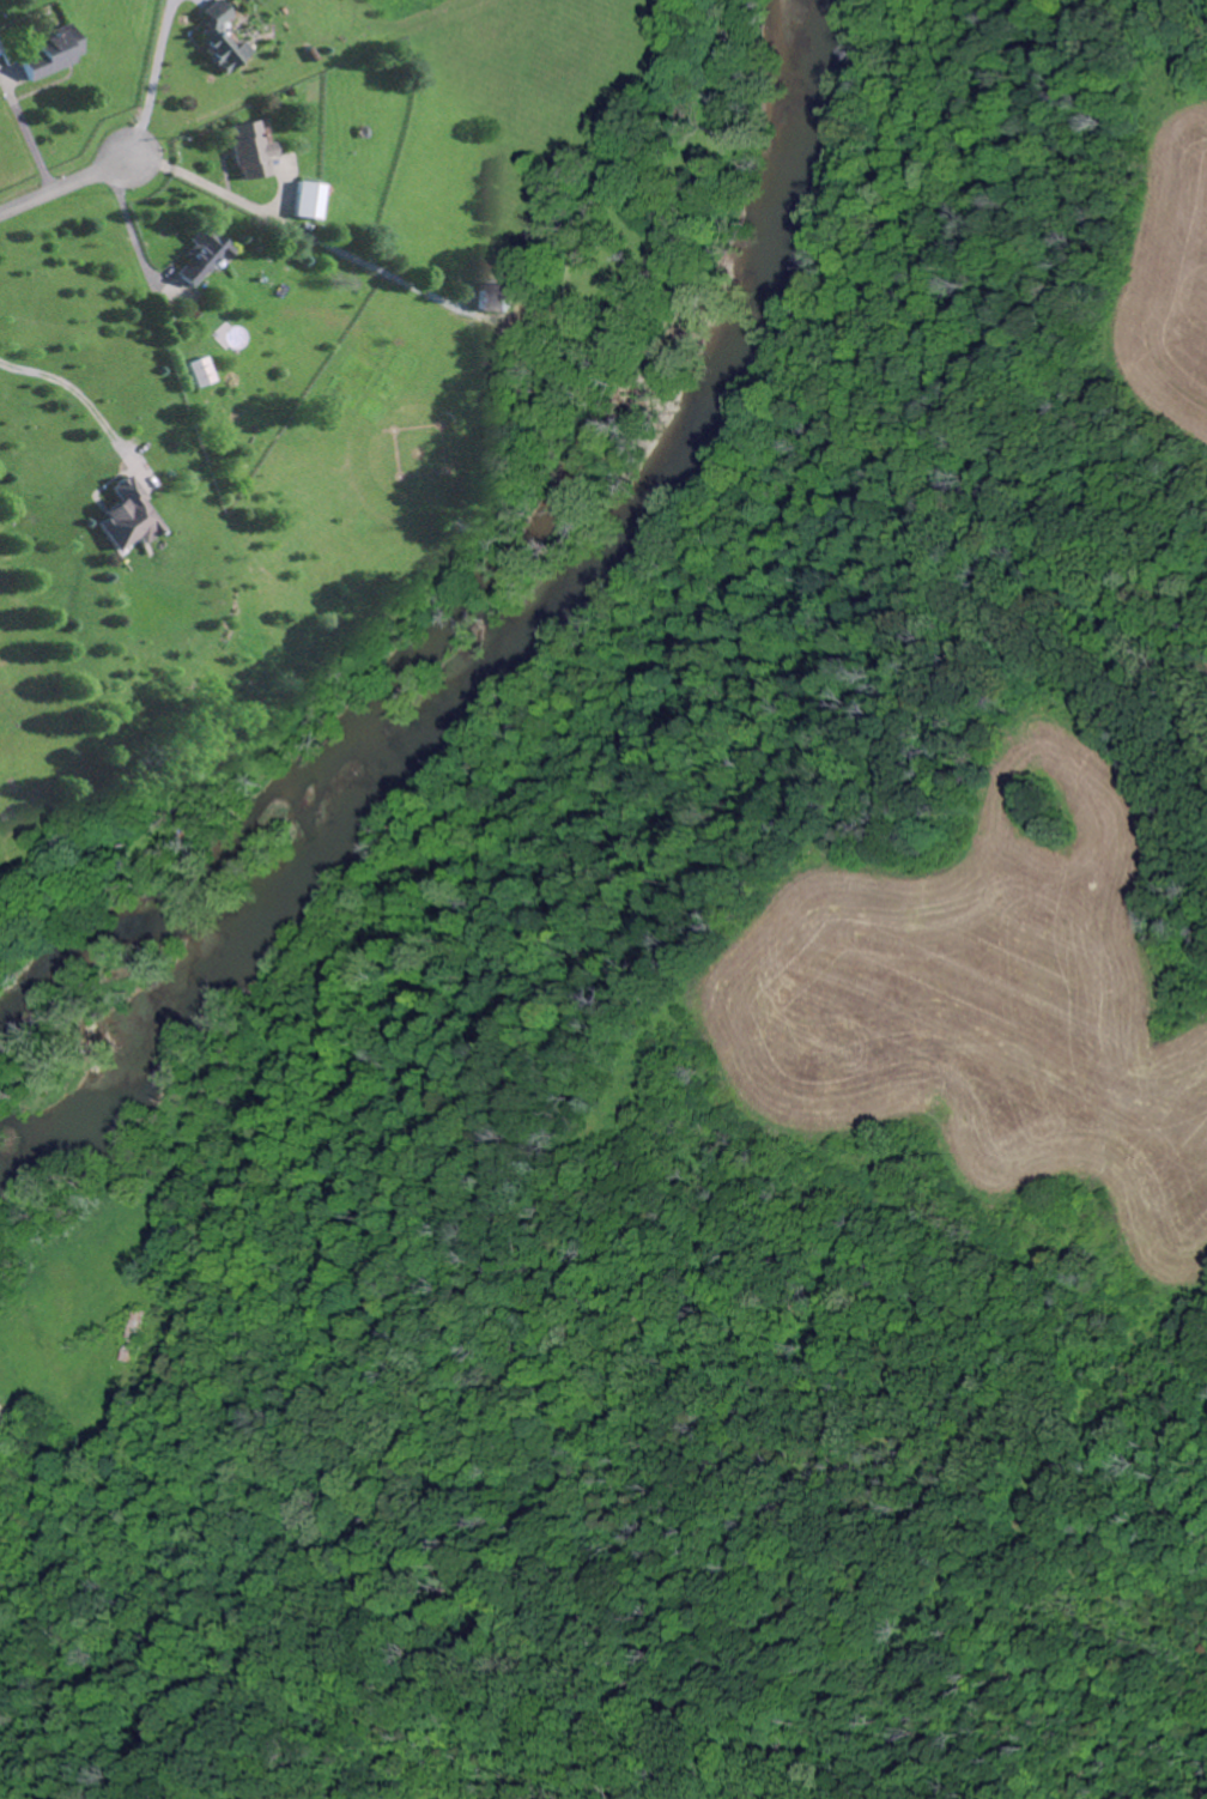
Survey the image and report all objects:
building: (222, 41)
building: (1, 52)
building: (53, 56)
road: (153, 79)
building: (250, 152)
road: (73, 188)
road: (211, 188)
building: (201, 256)
building: (495, 297)
building: (199, 372)
road: (74, 393)
building: (125, 519)
river: (517, 647)

